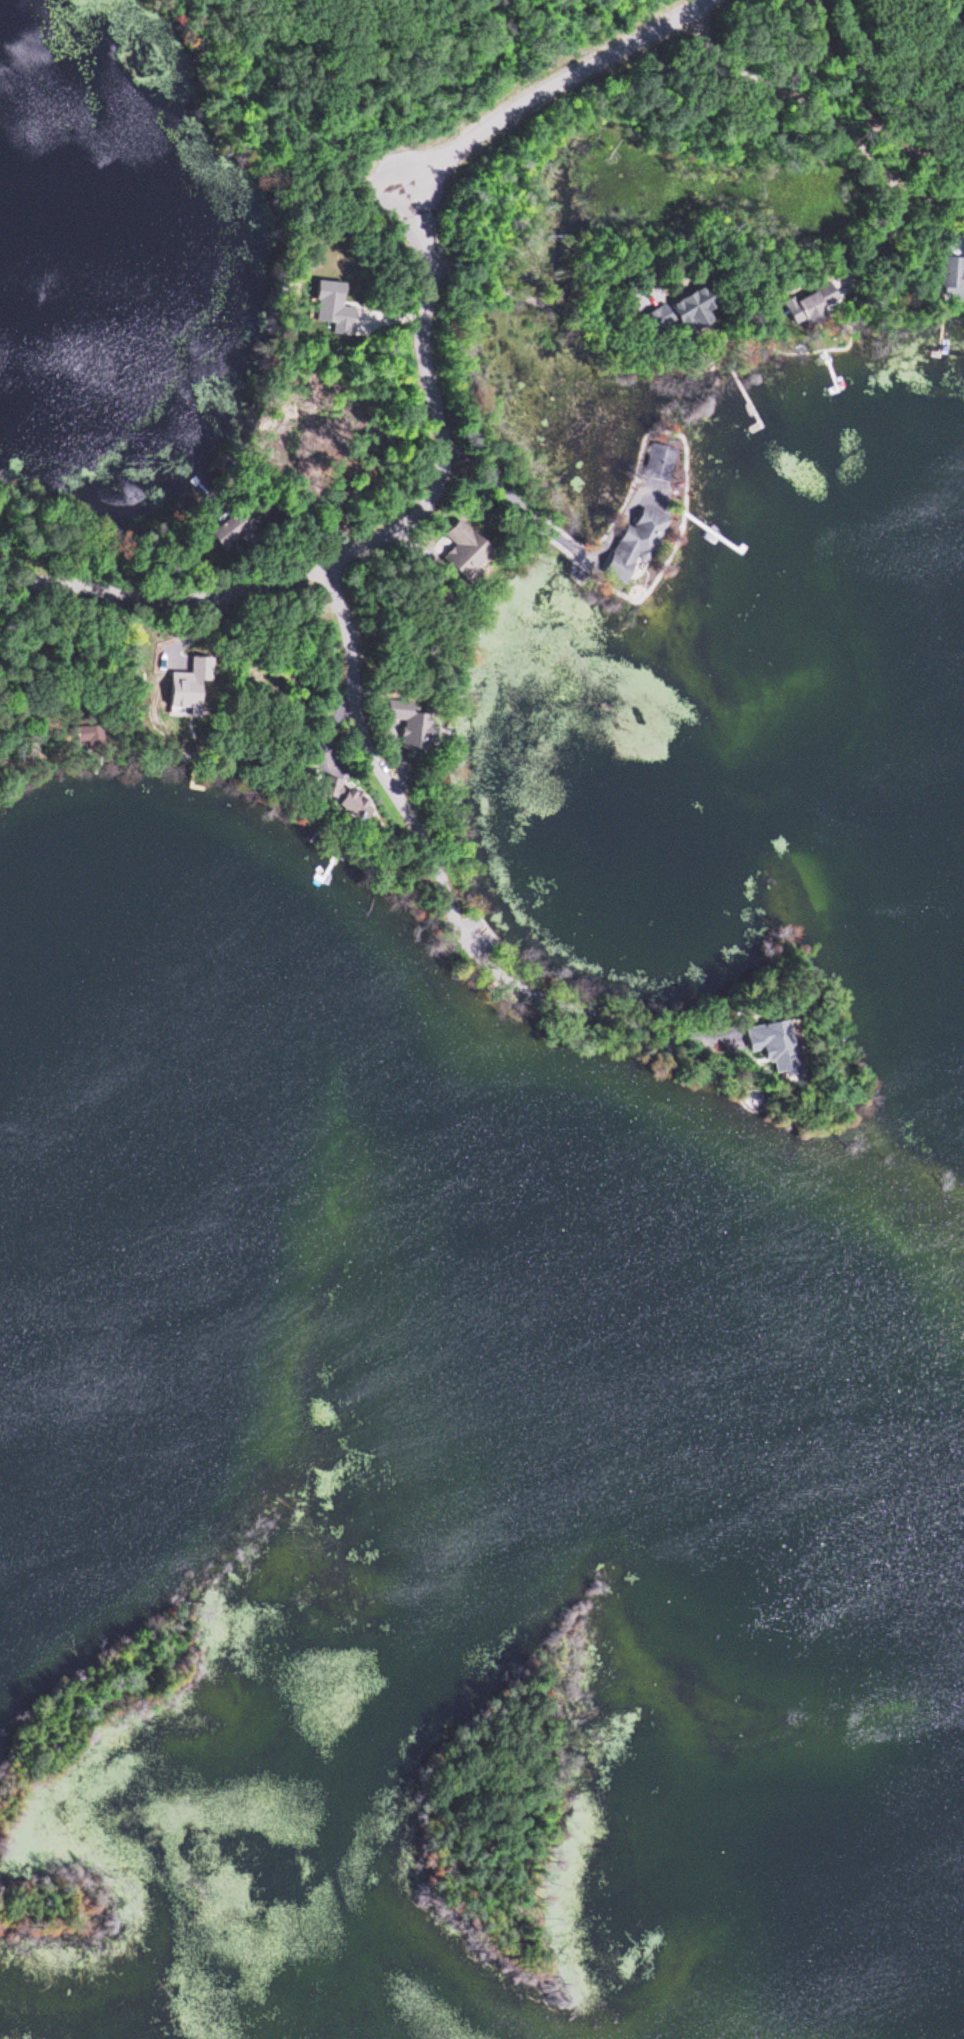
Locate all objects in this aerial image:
road: (223, 20)
road: (553, 87)
road: (861, 109)
road: (310, 129)
building: (955, 273)
building: (809, 305)
building: (676, 312)
building: (663, 463)
building: (234, 531)
road: (379, 539)
building: (632, 546)
building: (458, 549)
building: (407, 726)
road: (367, 759)
road: (580, 1018)
building: (762, 1044)

